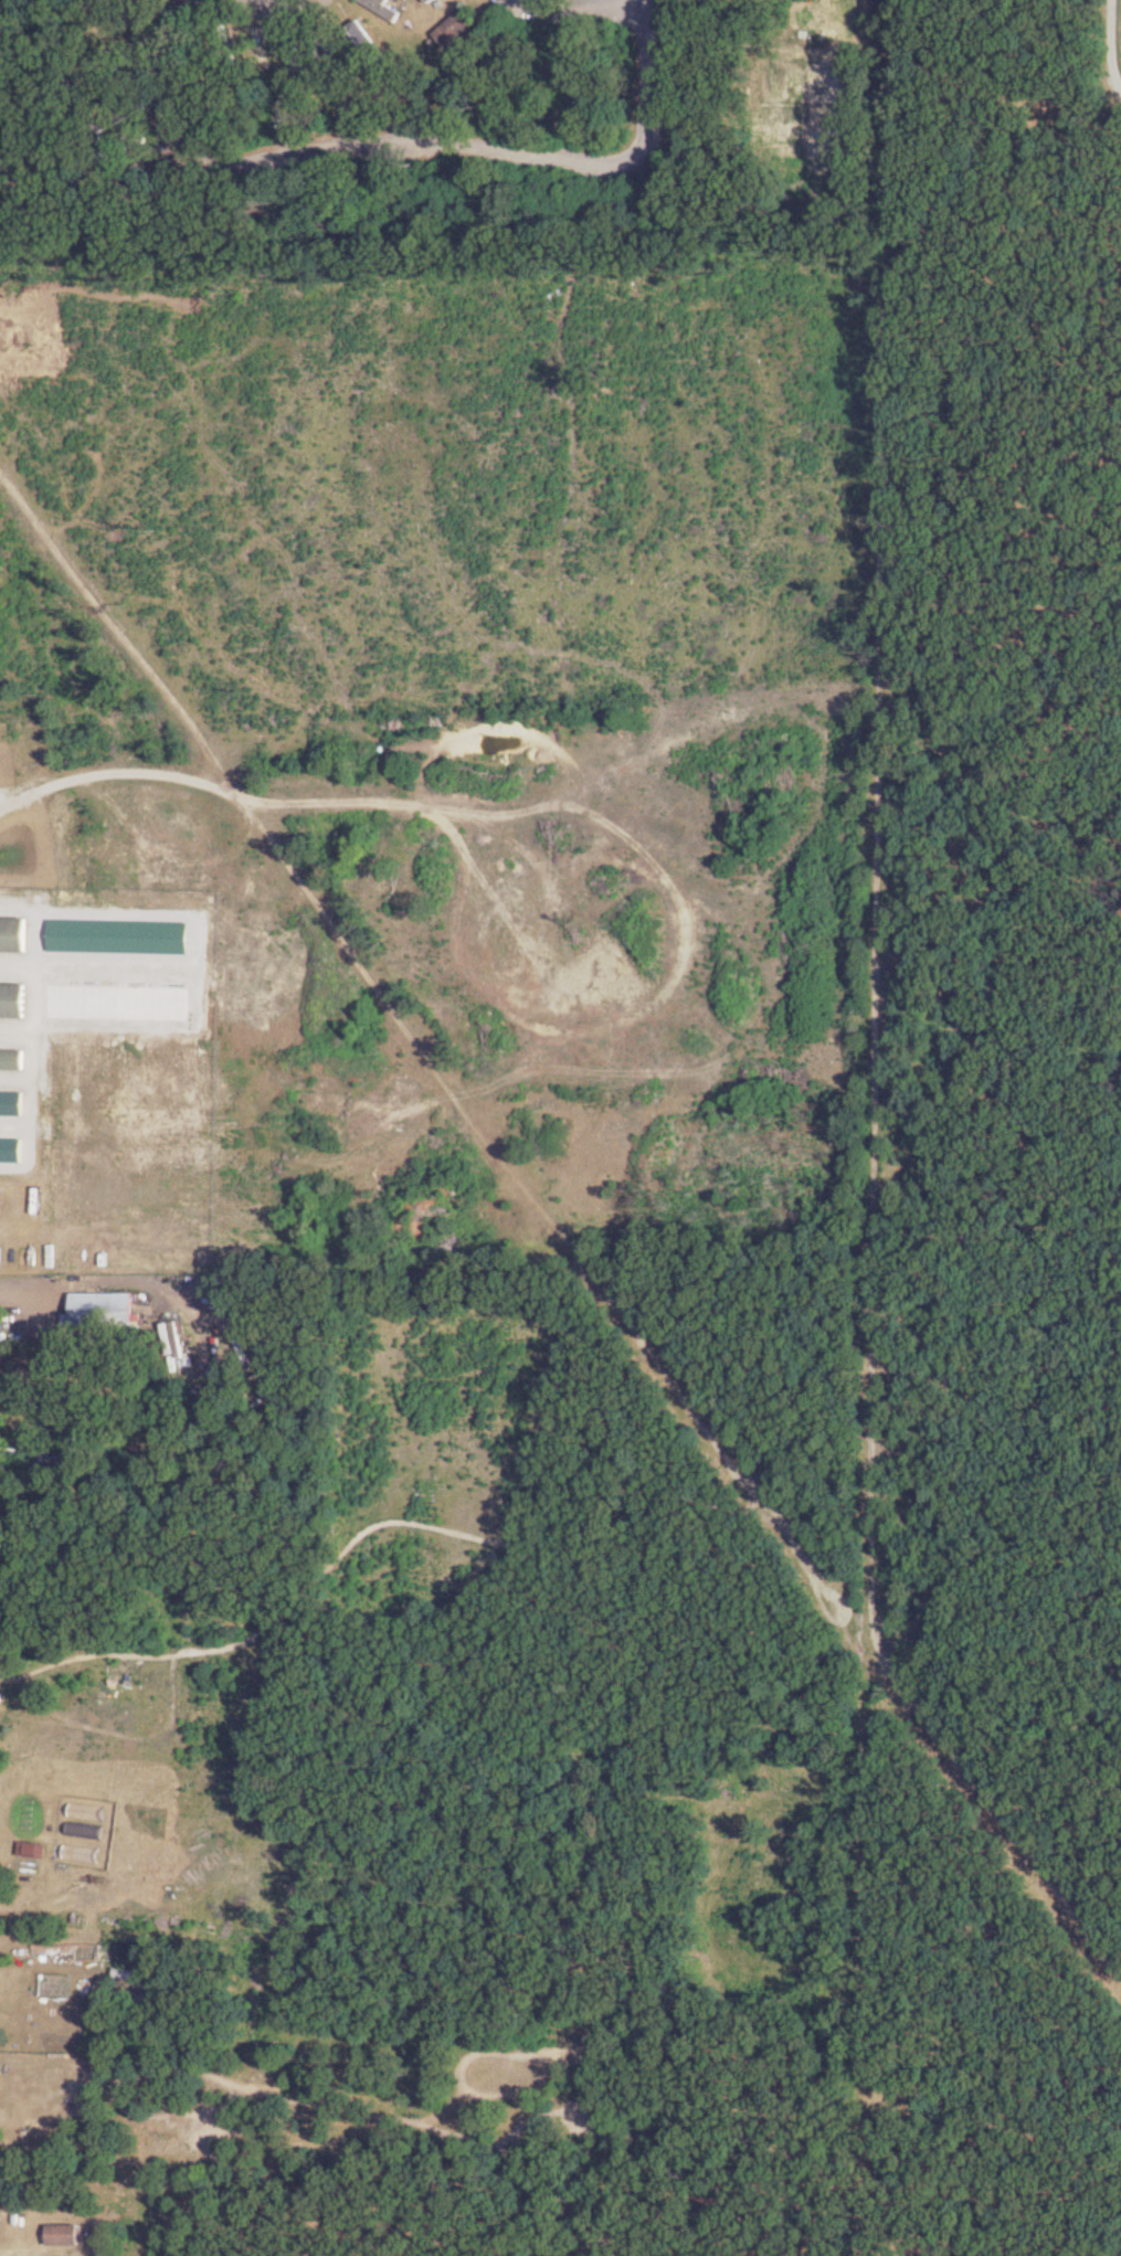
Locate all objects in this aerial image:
building: (431, 0)
road: (248, 4)
road: (578, 10)
building: (456, 28)
building: (228, 51)
building: (264, 51)
building: (295, 52)
building: (120, 53)
wastewater plant: (1115, 53)
building: (325, 54)
road: (173, 76)
road: (653, 82)
building: (120, 115)
road: (409, 142)
building: (118, 147)
building: (134, 182)
road: (118, 770)
building: (14, 934)
building: (13, 999)
building: (13, 1059)
road: (22, 1299)
building: (103, 1311)
building: (78, 1448)
road: (861, 1633)
building: (31, 1849)
building: (64, 2233)
road: (8, 2254)

